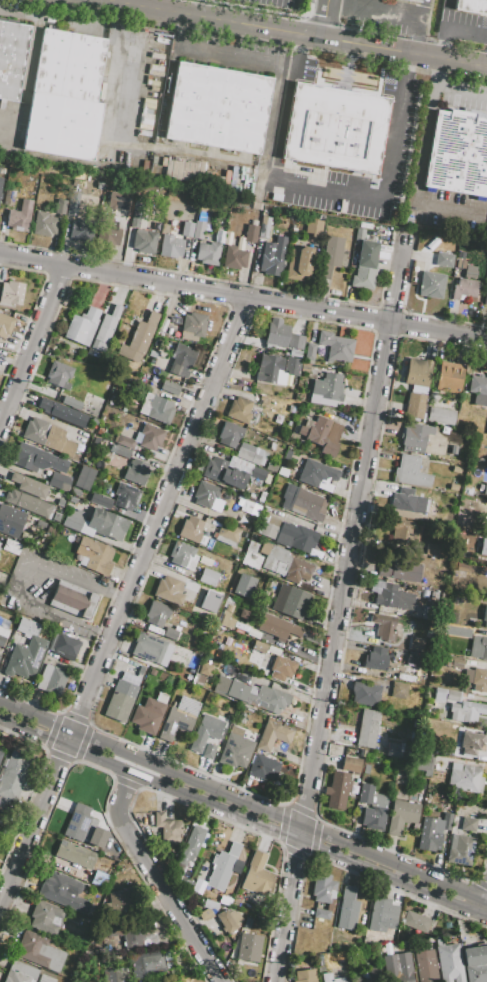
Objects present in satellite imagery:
building: (415, 0)
road: (106, 2)
road: (119, 2)
parking lot: (275, 3)
building: (471, 6)
road: (262, 9)
road: (71, 10)
road: (19, 11)
parking lot: (20, 13)
parking lot: (463, 18)
road: (324, 19)
parking lot: (74, 22)
parking lot: (375, 26)
road: (449, 28)
road: (302, 36)
parking lot: (230, 43)
road: (290, 51)
road: (214, 56)
building: (11, 58)
road: (354, 64)
building: (68, 65)
road: (406, 65)
road: (28, 69)
road: (449, 86)
parking lot: (463, 102)
building: (217, 108)
building: (304, 122)
parking lot: (10, 124)
road: (276, 124)
building: (61, 125)
building: (339, 129)
parking lot: (403, 132)
building: (371, 135)
road: (393, 139)
building: (448, 150)
building: (476, 161)
building: (182, 168)
road: (418, 177)
building: (1, 183)
building: (100, 185)
building: (45, 189)
road: (324, 192)
building: (9, 197)
building: (118, 201)
building: (60, 206)
building: (71, 209)
parking lot: (447, 209)
building: (19, 216)
building: (135, 216)
building: (220, 223)
building: (44, 224)
building: (265, 224)
building: (314, 227)
building: (192, 229)
building: (78, 231)
building: (252, 233)
building: (109, 234)
parking lot: (486, 235)
building: (144, 241)
building: (171, 246)
building: (209, 250)
building: (273, 256)
building: (330, 256)
building: (234, 257)
building: (444, 259)
building: (299, 263)
building: (365, 266)
building: (470, 273)
road: (226, 280)
building: (431, 284)
building: (464, 288)
building: (10, 293)
building: (485, 297)
road: (243, 299)
road: (389, 309)
road: (32, 310)
road: (405, 312)
building: (5, 325)
building: (106, 325)
building: (191, 325)
building: (82, 326)
building: (276, 333)
road: (386, 333)
building: (139, 338)
building: (294, 341)
building: (336, 346)
road: (32, 348)
building: (294, 353)
building: (182, 360)
building: (292, 366)
building: (270, 370)
building: (417, 372)
building: (59, 374)
building: (449, 377)
road: (199, 379)
building: (328, 386)
building: (169, 387)
building: (478, 389)
building: (71, 402)
building: (263, 402)
building: (415, 405)
building: (156, 408)
building: (239, 409)
building: (59, 411)
building: (440, 415)
building: (229, 434)
building: (321, 434)
building: (47, 437)
building: (415, 437)
building: (143, 438)
building: (120, 451)
building: (251, 454)
building: (286, 455)
building: (37, 459)
building: (456, 469)
building: (282, 471)
building: (136, 472)
building: (231, 472)
building: (410, 472)
building: (317, 475)
building: (84, 478)
building: (59, 481)
building: (32, 487)
building: (453, 487)
building: (485, 490)
building: (76, 492)
building: (205, 493)
building: (126, 496)
building: (261, 497)
building: (72, 499)
building: (101, 501)
building: (407, 501)
building: (302, 502)
building: (26, 503)
building: (61, 505)
building: (55, 517)
building: (11, 521)
building: (96, 523)
building: (190, 529)
building: (399, 529)
building: (49, 530)
building: (268, 530)
building: (228, 532)
building: (296, 536)
building: (11, 546)
building: (483, 547)
building: (431, 549)
building: (181, 553)
building: (94, 556)
building: (251, 556)
building: (284, 563)
building: (400, 570)
road: (15, 576)
building: (208, 577)
building: (244, 585)
building: (174, 589)
parking lot: (50, 590)
building: (1, 593)
building: (388, 598)
building: (73, 599)
building: (456, 600)
building: (291, 601)
road: (123, 606)
building: (195, 609)
road: (340, 609)
building: (243, 613)
building: (156, 614)
building: (485, 616)
building: (233, 624)
building: (277, 626)
building: (383, 626)
building: (28, 628)
building: (457, 631)
building: (170, 634)
building: (2, 635)
road: (344, 635)
building: (259, 646)
building: (479, 648)
building: (151, 649)
building: (194, 657)
building: (24, 658)
building: (375, 658)
building: (414, 658)
building: (457, 663)
building: (57, 665)
building: (281, 668)
building: (135, 669)
building: (205, 669)
building: (476, 679)
building: (398, 690)
building: (365, 693)
building: (253, 694)
building: (445, 695)
building: (120, 701)
building: (464, 711)
building: (149, 713)
building: (179, 718)
building: (367, 728)
building: (205, 732)
building: (272, 735)
building: (471, 743)
road: (41, 745)
building: (235, 748)
building: (208, 751)
building: (394, 751)
building: (0, 752)
road: (76, 760)
road: (85, 762)
building: (351, 764)
building: (425, 764)
building: (263, 767)
building: (14, 775)
building: (464, 778)
road: (128, 782)
road: (236, 786)
building: (337, 791)
road: (243, 802)
road: (120, 807)
building: (372, 807)
building: (401, 816)
road: (220, 817)
road: (243, 820)
building: (84, 827)
building: (165, 827)
building: (433, 832)
building: (461, 842)
building: (191, 844)
building: (75, 855)
road: (310, 857)
building: (222, 867)
building: (256, 876)
road: (481, 883)
road: (384, 884)
building: (323, 888)
building: (62, 891)
building: (225, 900)
building: (117, 904)
building: (208, 909)
road: (174, 910)
building: (321, 914)
building: (382, 915)
building: (346, 916)
building: (45, 918)
building: (229, 920)
building: (415, 921)
building: (133, 934)
building: (249, 947)
building: (39, 951)
building: (148, 961)
building: (449, 961)
building: (475, 963)
building: (425, 965)
building: (398, 966)
building: (20, 972)
building: (114, 974)
building: (374, 974)
building: (306, 976)
building: (327, 978)
building: (45, 979)
building: (363, 980)
building: (159, 981)

